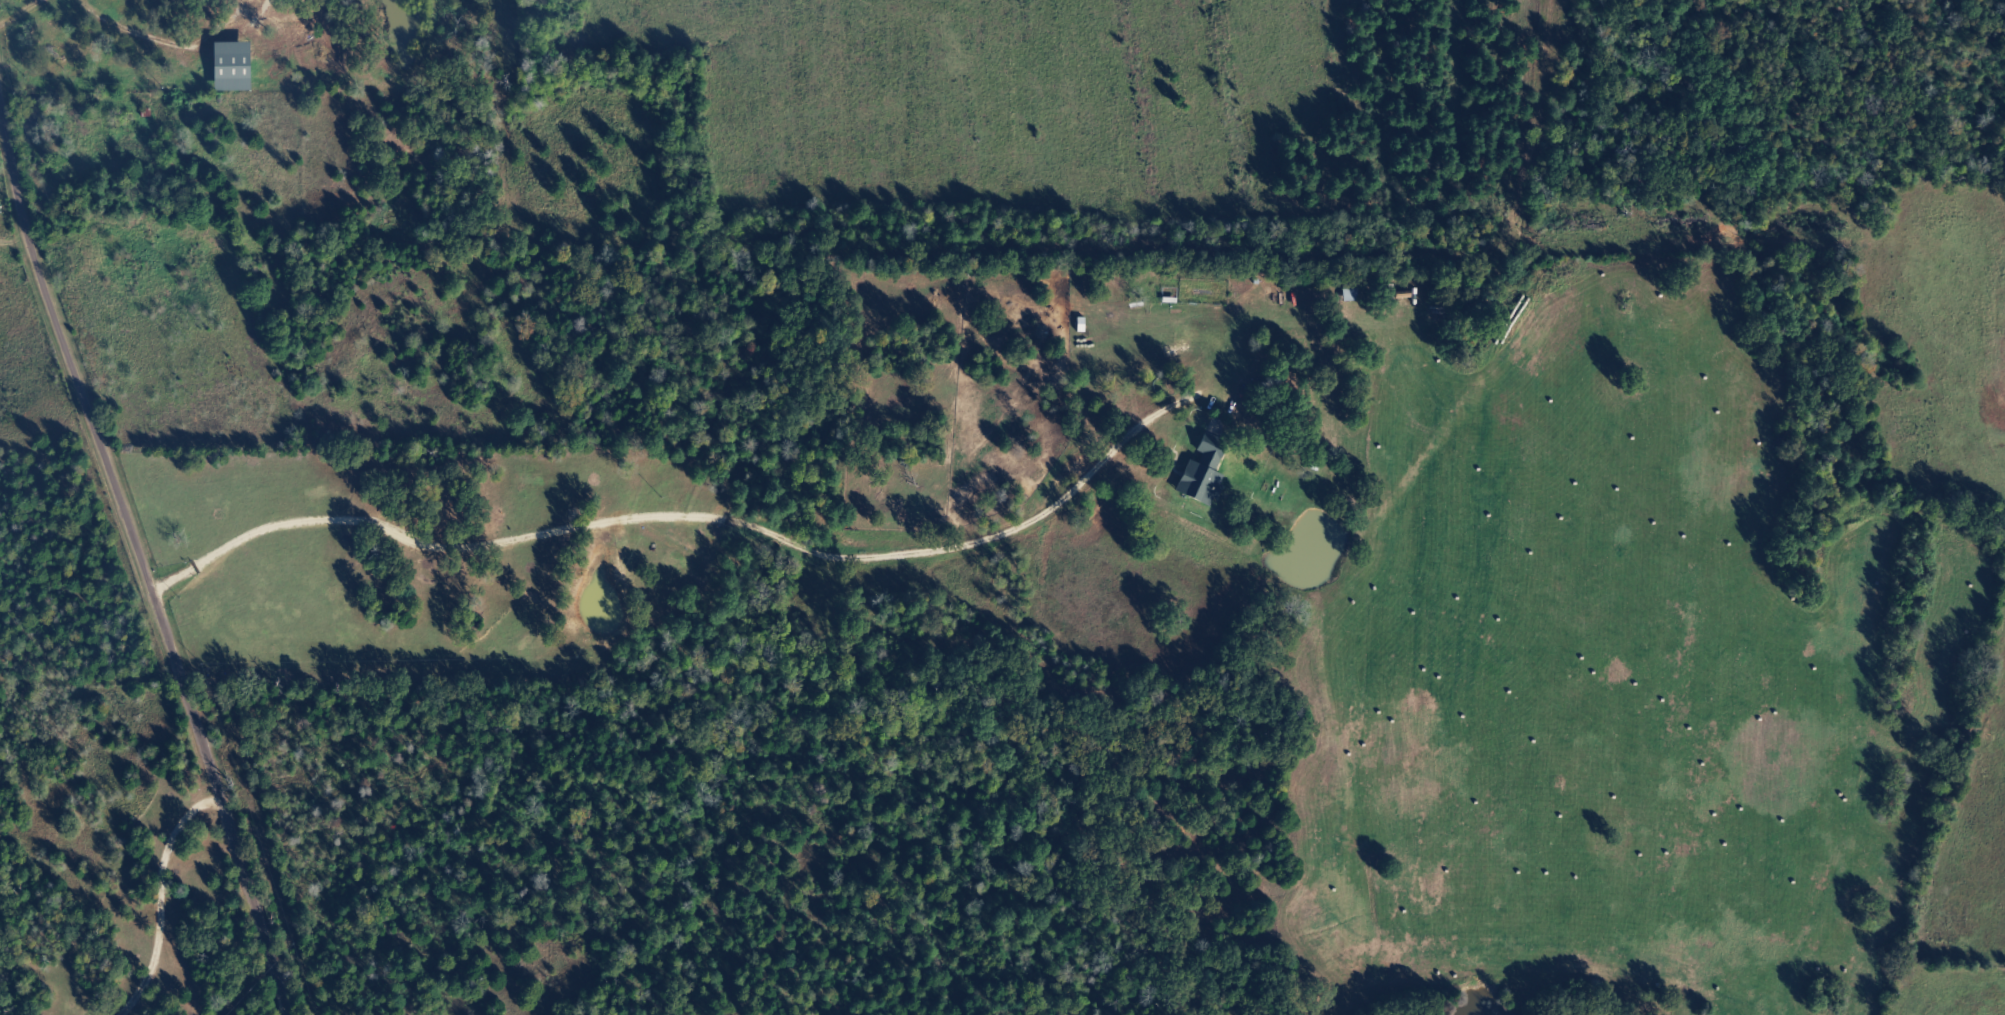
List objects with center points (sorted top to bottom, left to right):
building: (236, 68)
building: (1353, 296)
building: (1206, 475)
road: (136, 548)

